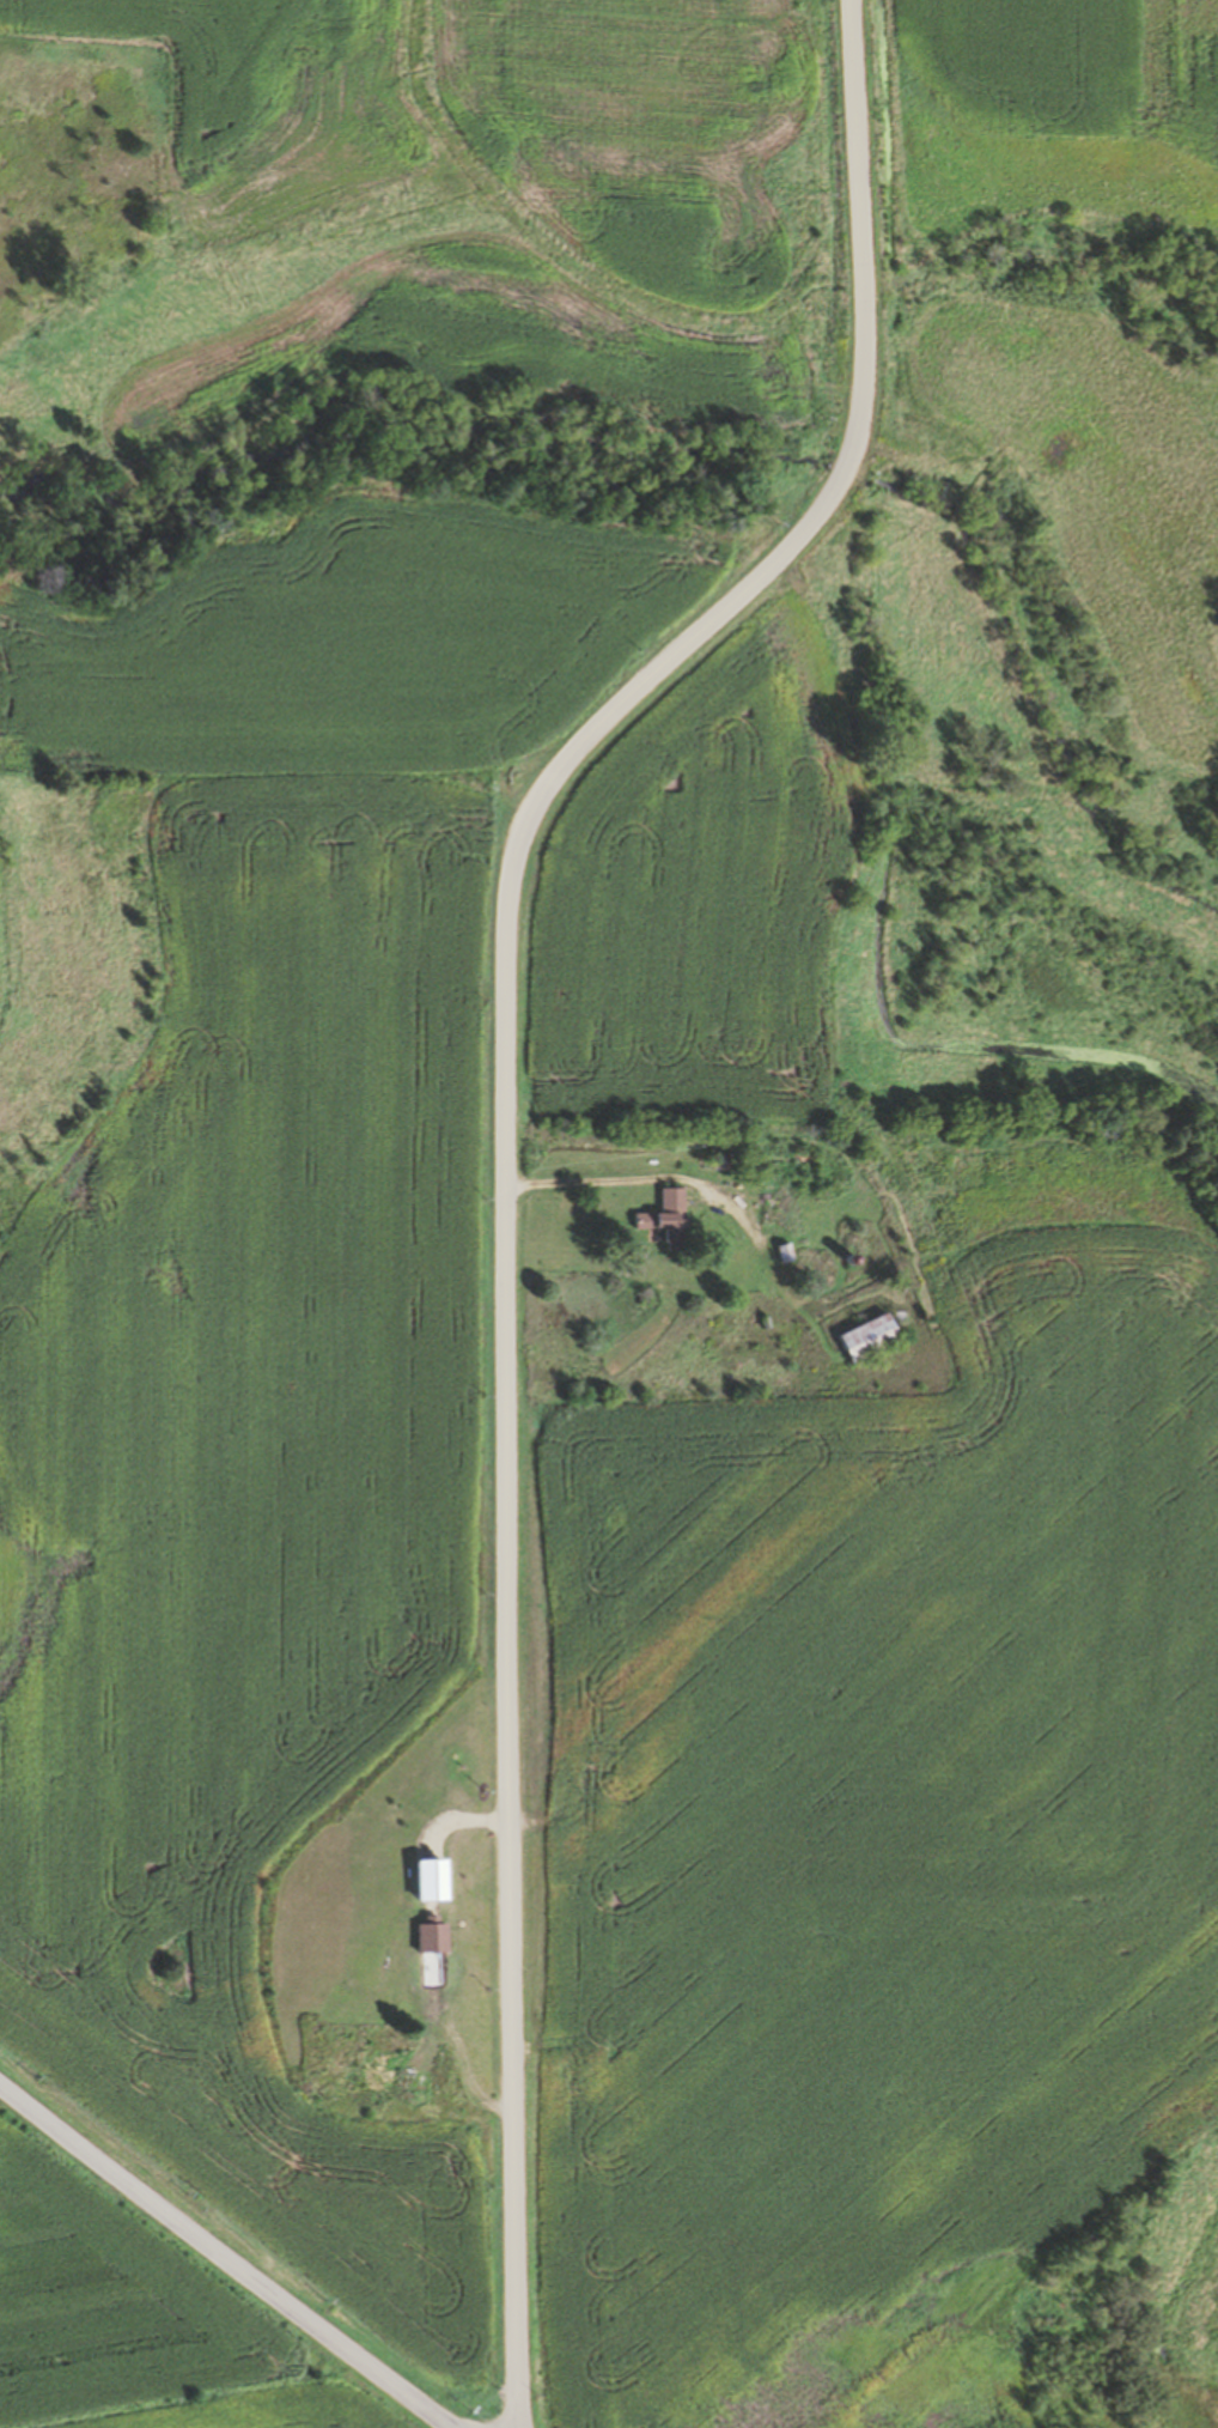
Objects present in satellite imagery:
road: (860, 135)
road: (865, 291)
road: (865, 387)
road: (847, 478)
building: (725, 1163)
building: (670, 1219)
building: (787, 1254)
building: (872, 1339)
road: (506, 1396)
building: (433, 2071)
road: (226, 2253)

